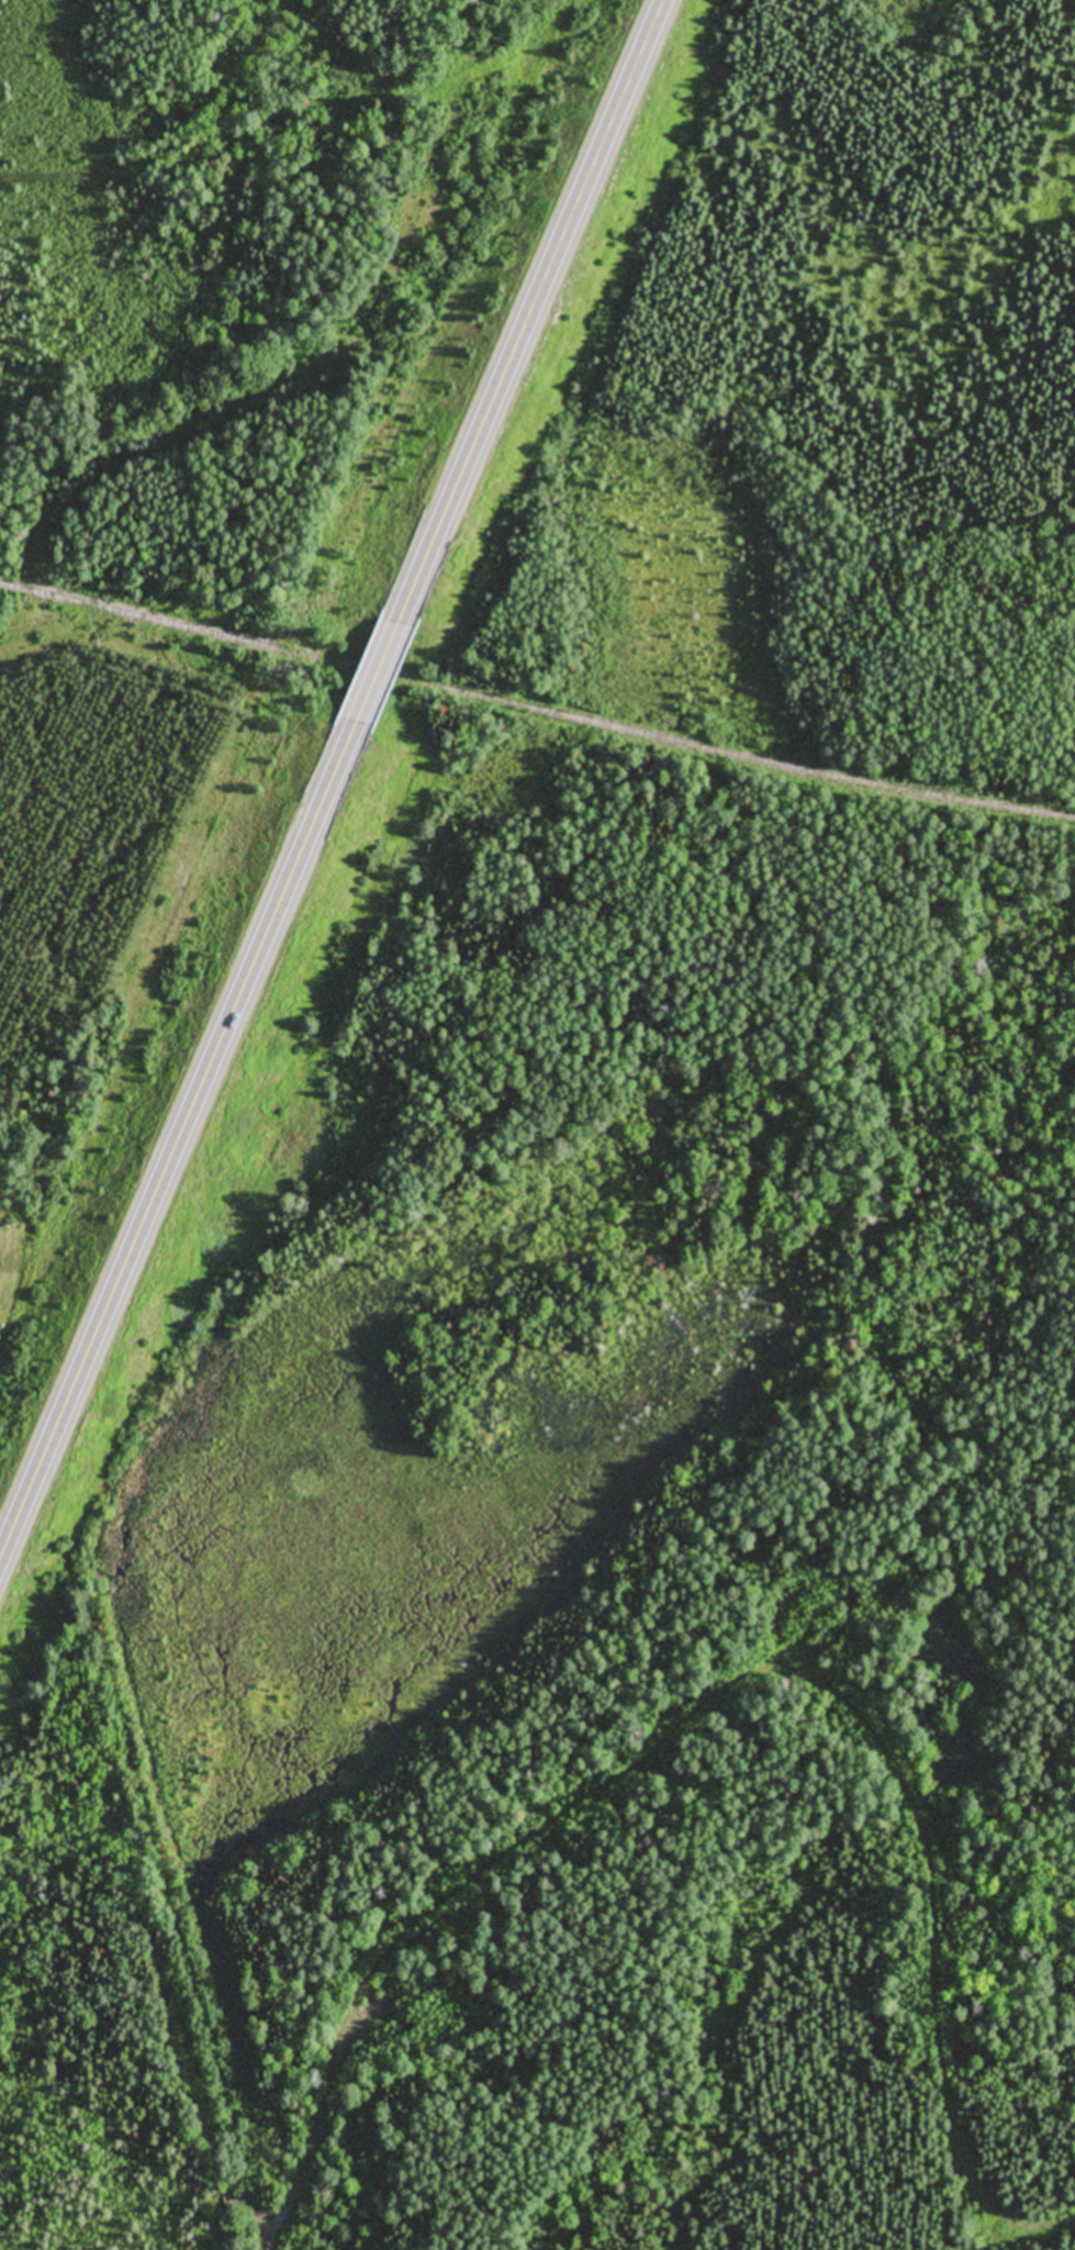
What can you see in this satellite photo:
road: (526, 311)
road: (371, 672)
railway: (536, 706)
road: (175, 1141)
road: (573, 1772)
road: (181, 1931)

